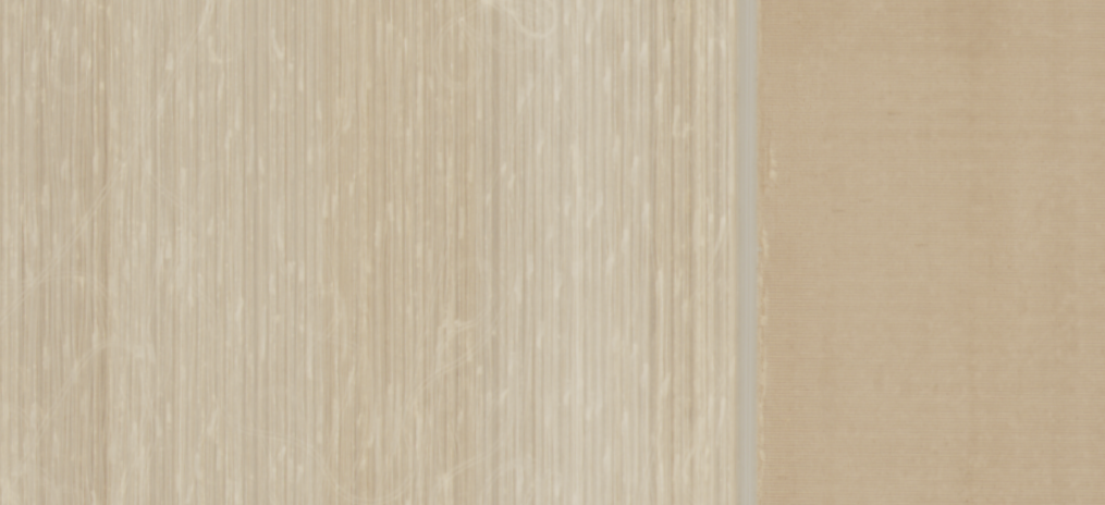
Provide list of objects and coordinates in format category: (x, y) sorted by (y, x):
crop: (354, 251)
road: (789, 253)
crop: (907, 253)

